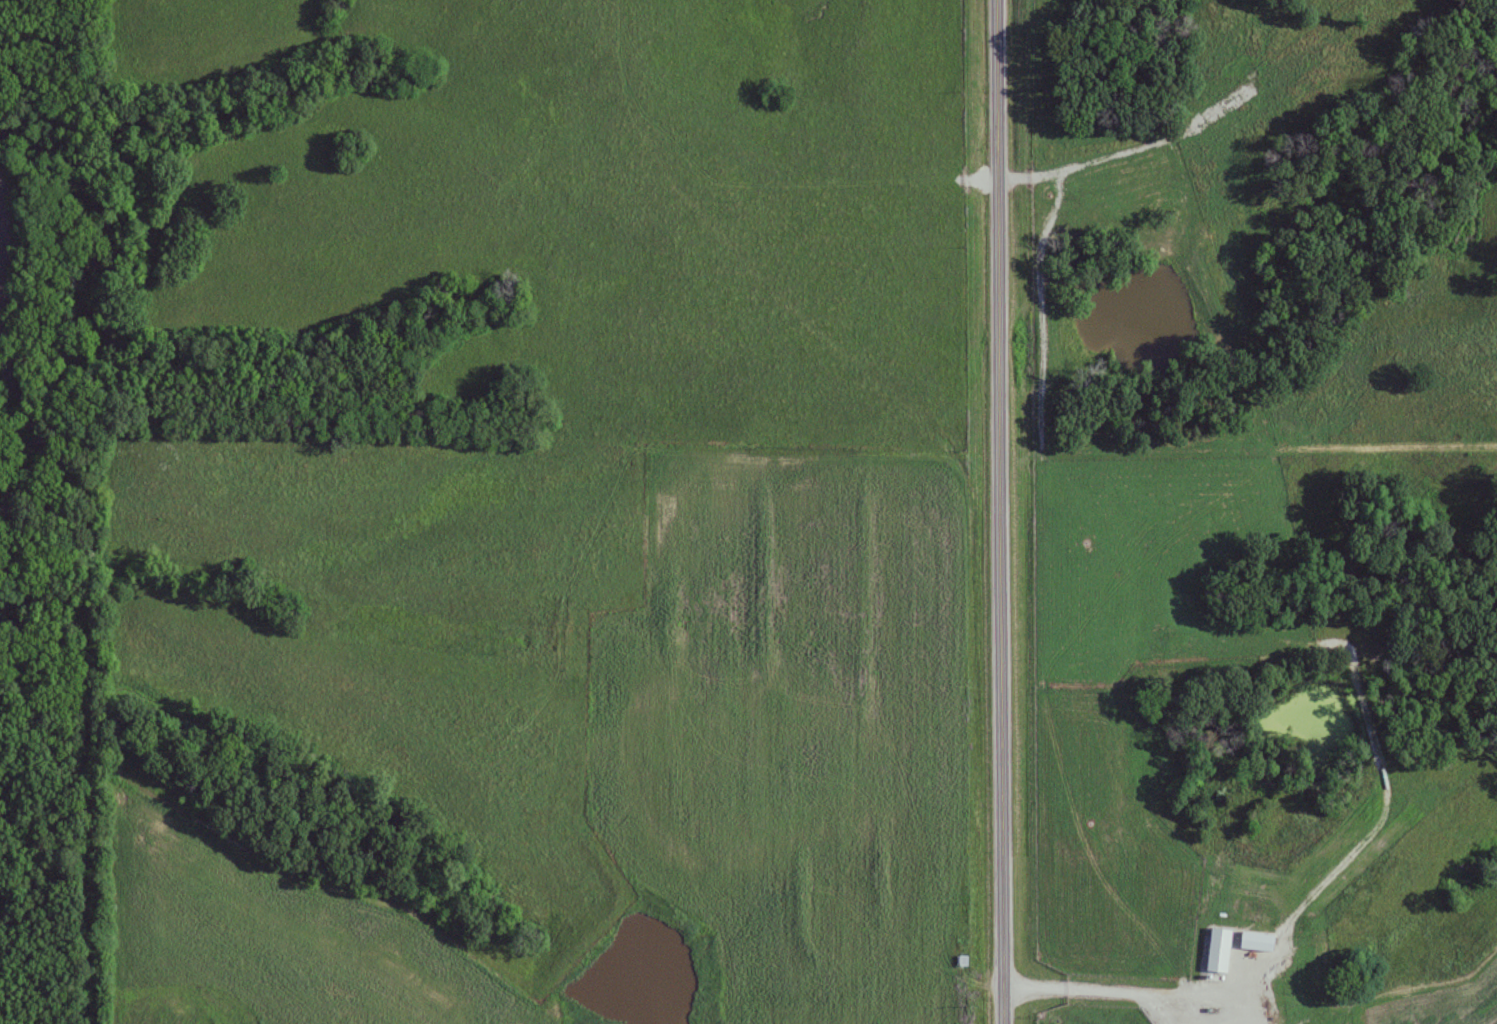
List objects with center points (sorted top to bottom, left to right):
road: (1003, 511)
building: (1192, 969)

